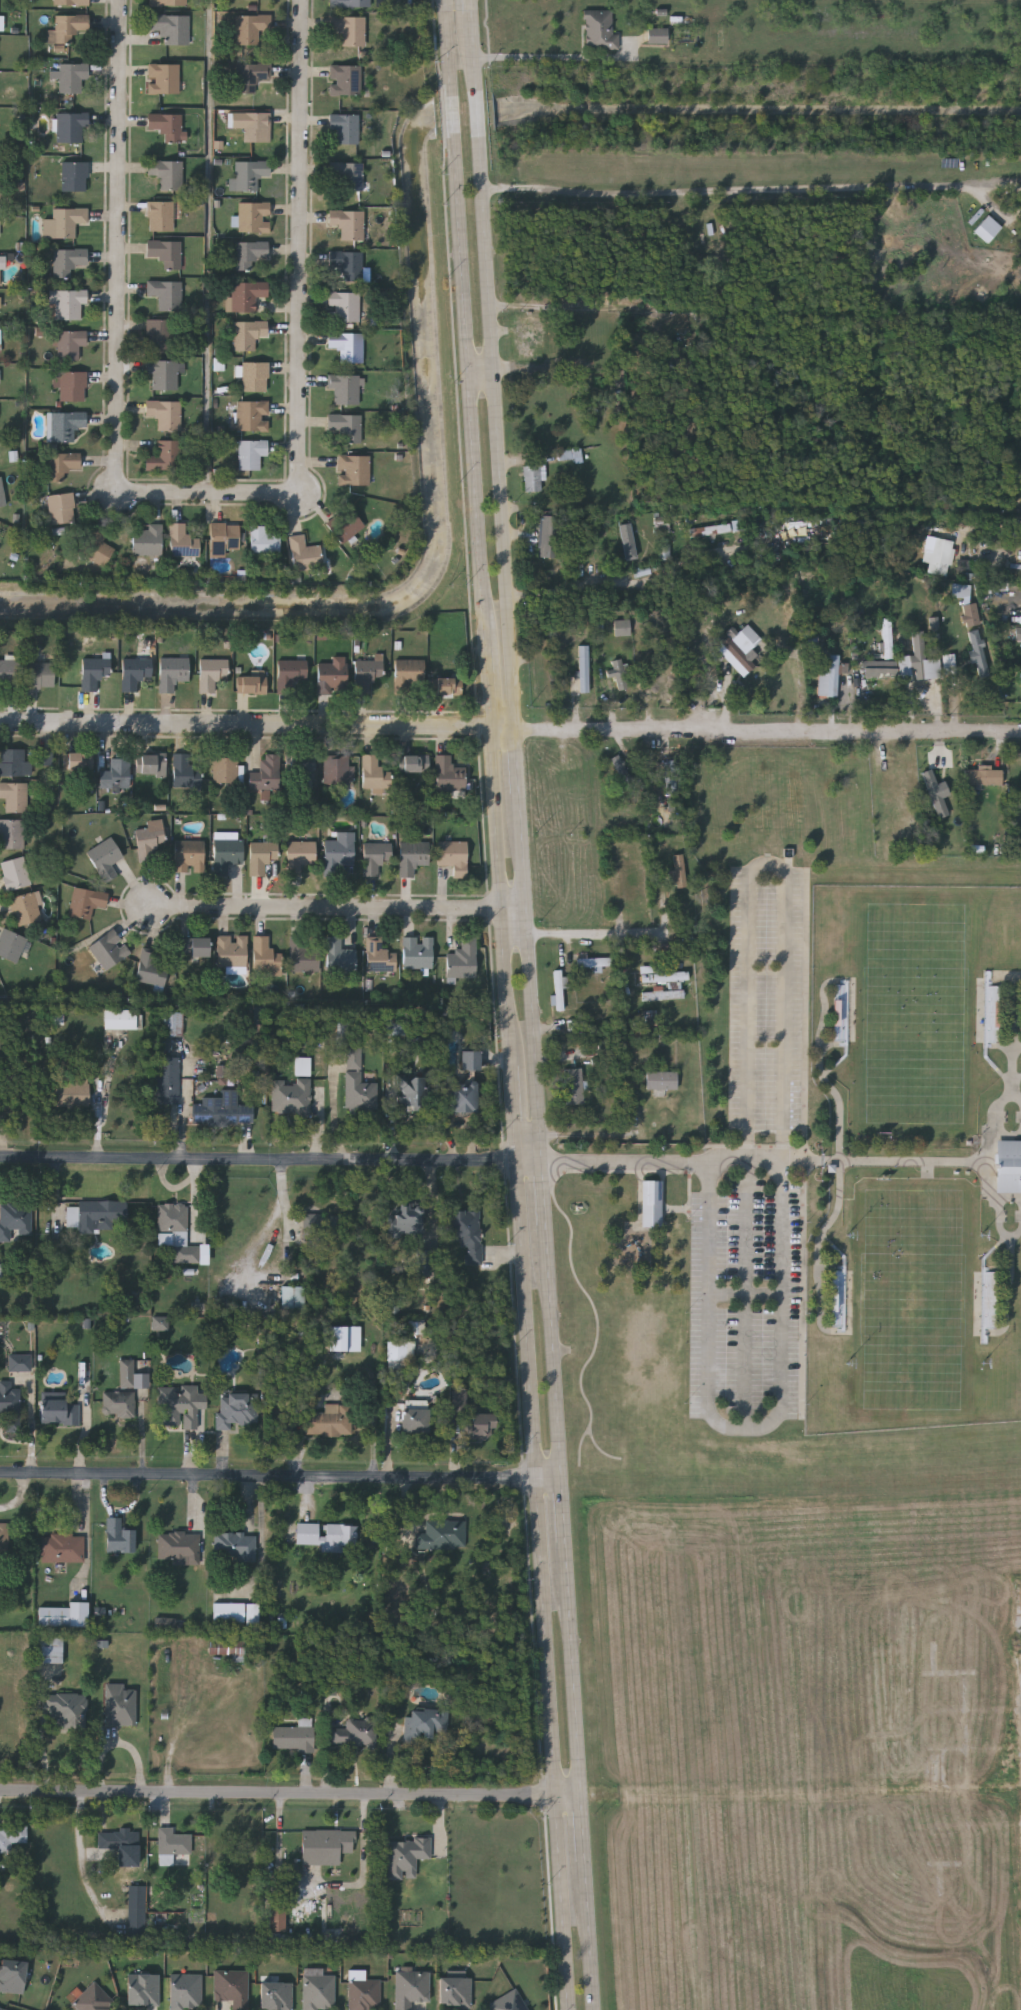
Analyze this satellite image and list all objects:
building: (71, 2)
building: (168, 3)
building: (351, 3)
road: (469, 6)
building: (2, 23)
building: (69, 26)
building: (172, 27)
building: (251, 27)
building: (350, 29)
building: (600, 31)
building: (657, 35)
road: (546, 57)
building: (251, 76)
building: (71, 77)
building: (164, 78)
building: (346, 78)
building: (166, 125)
building: (254, 125)
building: (71, 126)
building: (346, 126)
building: (167, 173)
building: (250, 174)
building: (348, 174)
building: (74, 176)
building: (1, 190)
road: (735, 194)
building: (161, 216)
building: (253, 217)
building: (65, 222)
building: (348, 223)
building: (0, 228)
building: (988, 229)
road: (120, 236)
road: (304, 238)
road: (213, 247)
building: (165, 252)
building: (250, 254)
building: (68, 261)
building: (347, 266)
building: (0, 270)
building: (167, 294)
building: (248, 295)
building: (1, 301)
building: (68, 302)
building: (344, 307)
building: (160, 334)
building: (248, 334)
building: (1, 336)
building: (529, 337)
building: (69, 343)
building: (348, 346)
road: (479, 370)
road: (492, 371)
building: (165, 373)
building: (255, 377)
building: (73, 386)
building: (346, 388)
building: (165, 414)
building: (253, 416)
building: (65, 425)
building: (347, 426)
building: (251, 453)
building: (165, 457)
building: (62, 465)
building: (354, 469)
building: (535, 477)
road: (208, 494)
building: (2, 495)
building: (61, 508)
building: (346, 524)
road: (991, 526)
building: (709, 529)
building: (861, 532)
building: (550, 535)
building: (223, 537)
building: (265, 539)
building: (148, 541)
building: (182, 541)
building: (629, 541)
building: (97, 548)
building: (305, 554)
building: (939, 555)
road: (646, 579)
building: (962, 592)
building: (971, 614)
building: (623, 627)
building: (1018, 632)
building: (887, 638)
building: (738, 651)
building: (978, 652)
building: (918, 654)
building: (950, 664)
building: (584, 668)
building: (293, 671)
building: (95, 673)
building: (136, 673)
building: (174, 673)
building: (213, 673)
building: (9, 674)
building: (367, 674)
building: (833, 674)
building: (41, 675)
building: (333, 675)
building: (616, 675)
building: (410, 677)
building: (252, 684)
building: (448, 687)
road: (246, 724)
road: (501, 729)
road: (766, 731)
building: (46, 757)
building: (79, 761)
road: (513, 762)
building: (14, 763)
building: (414, 764)
building: (153, 767)
building: (302, 769)
building: (622, 769)
building: (340, 770)
building: (225, 771)
building: (117, 773)
building: (186, 773)
building: (267, 775)
building: (374, 775)
building: (448, 775)
building: (673, 776)
building: (983, 777)
building: (938, 793)
building: (15, 796)
building: (12, 834)
building: (151, 842)
building: (340, 850)
building: (227, 854)
building: (190, 856)
building: (300, 856)
building: (454, 856)
building: (377, 857)
building: (414, 858)
building: (106, 859)
building: (262, 859)
building: (679, 870)
building: (16, 874)
building: (87, 903)
building: (28, 909)
road: (337, 909)
road: (586, 938)
building: (11, 946)
building: (196, 947)
building: (110, 950)
building: (232, 951)
building: (419, 953)
building: (303, 956)
building: (380, 956)
building: (266, 957)
building: (340, 957)
building: (464, 960)
building: (594, 962)
road: (525, 965)
building: (152, 969)
building: (664, 975)
road: (750, 987)
building: (559, 990)
road: (507, 1004)
building: (842, 1010)
park: (915, 1012)
building: (993, 1014)
building: (120, 1019)
building: (172, 1024)
building: (608, 1049)
building: (227, 1074)
building: (167, 1080)
building: (662, 1081)
building: (358, 1083)
building: (462, 1085)
building: (574, 1086)
building: (412, 1091)
building: (72, 1092)
building: (291, 1096)
building: (221, 1112)
road: (592, 1135)
road: (526, 1136)
road: (538, 1149)
road: (269, 1160)
park: (816, 1160)
road: (673, 1162)
building: (1009, 1166)
road: (541, 1193)
building: (651, 1203)
building: (98, 1214)
building: (15, 1218)
building: (407, 1219)
building: (173, 1220)
building: (311, 1223)
road: (268, 1225)
building: (466, 1230)
building: (205, 1254)
building: (425, 1263)
building: (1, 1271)
building: (292, 1297)
building: (839, 1297)
building: (990, 1297)
park: (913, 1298)
building: (162, 1324)
building: (337, 1338)
road: (551, 1352)
building: (401, 1354)
building: (21, 1363)
building: (126, 1372)
building: (9, 1399)
building: (460, 1401)
building: (119, 1404)
building: (180, 1406)
building: (237, 1409)
building: (60, 1413)
building: (329, 1420)
building: (415, 1421)
building: (481, 1428)
road: (743, 1429)
road: (279, 1479)
road: (561, 1511)
building: (326, 1535)
building: (443, 1535)
building: (118, 1536)
building: (3, 1537)
building: (235, 1544)
building: (179, 1545)
building: (63, 1548)
building: (229, 1612)
building: (64, 1614)
building: (252, 1614)
building: (166, 1623)
building: (226, 1648)
building: (50, 1649)
road: (571, 1670)
building: (120, 1704)
building: (60, 1713)
building: (421, 1725)
building: (354, 1732)
building: (293, 1738)
road: (289, 1795)
road: (581, 1829)
building: (11, 1837)
building: (173, 1840)
building: (122, 1844)
building: (326, 1845)
road: (81, 1856)
building: (407, 1857)
building: (137, 1910)
building: (277, 1917)
road: (588, 1936)
building: (12, 1976)
building: (233, 1988)
building: (412, 1988)
building: (144, 1990)
building: (186, 1992)
building: (320, 1992)
building: (456, 1992)
building: (365, 1994)
building: (277, 1996)
building: (95, 1999)
building: (508, 2002)
building: (2, 2009)

